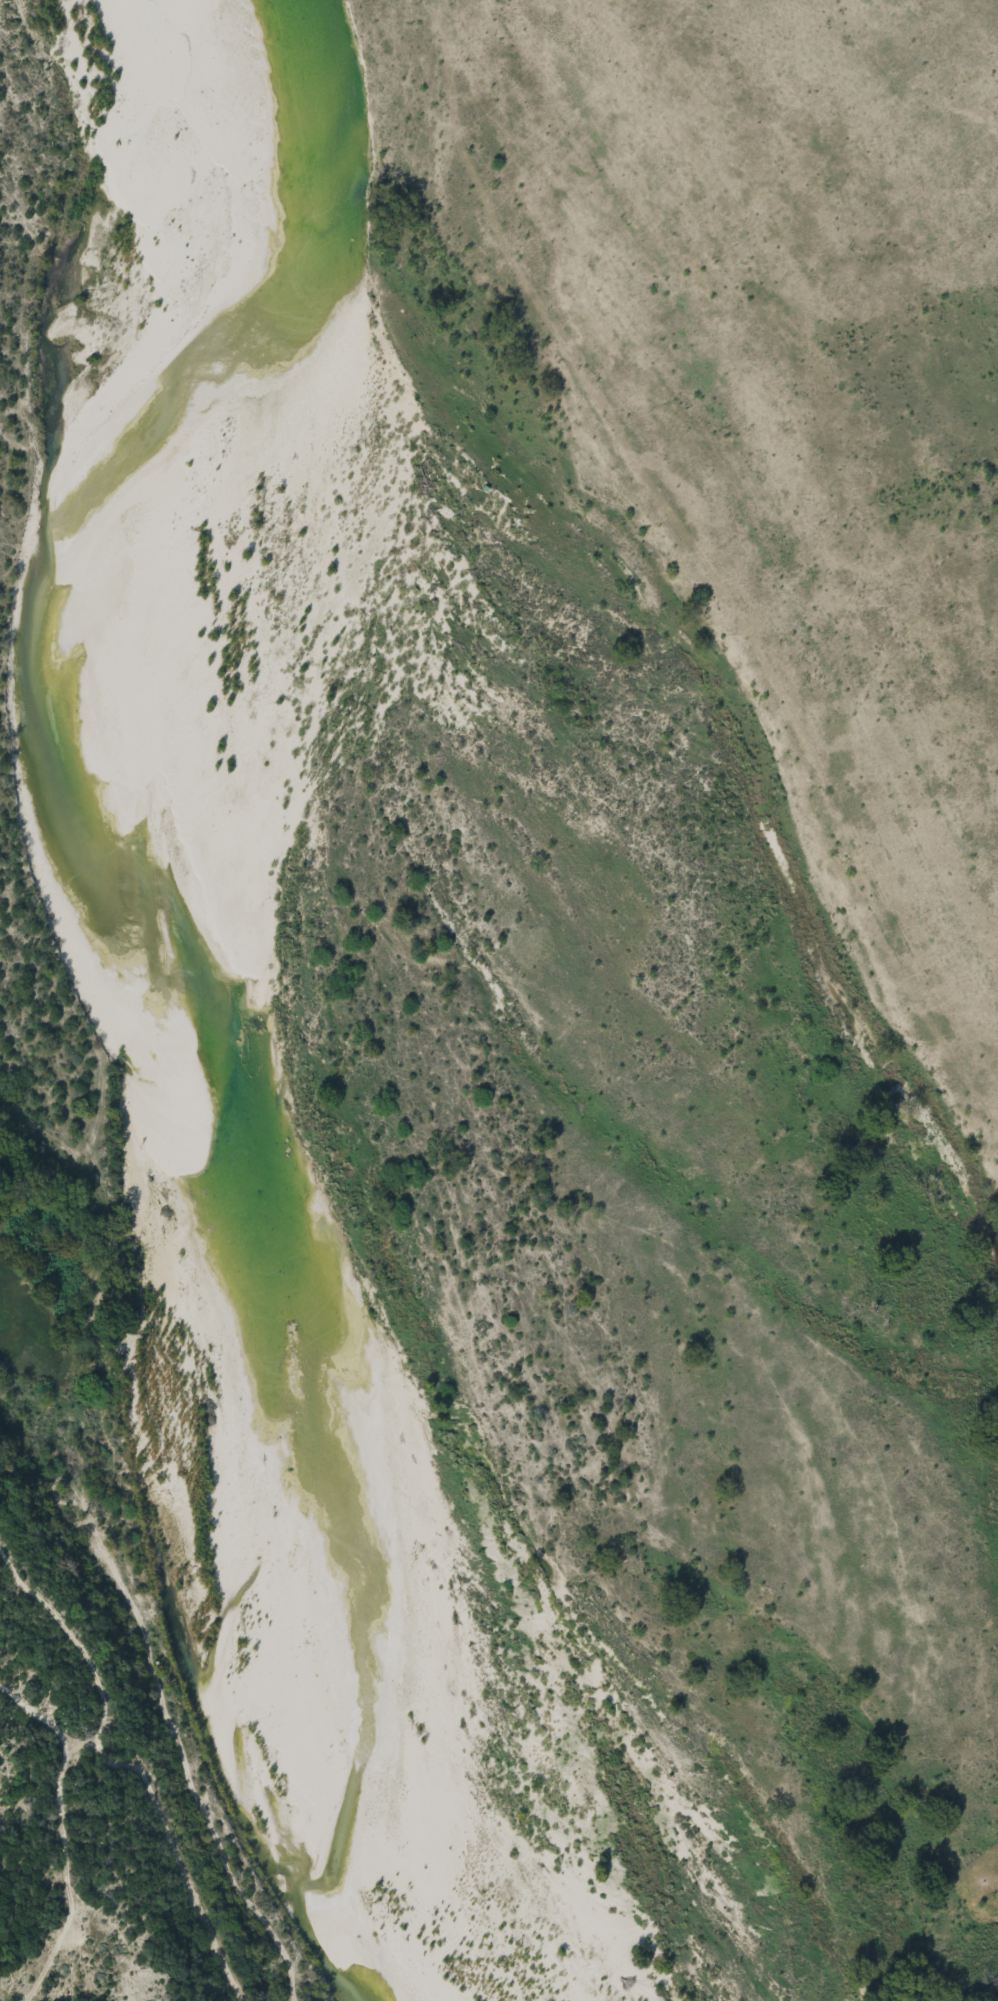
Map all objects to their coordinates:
road: (718, 546)
river: (177, 1094)

